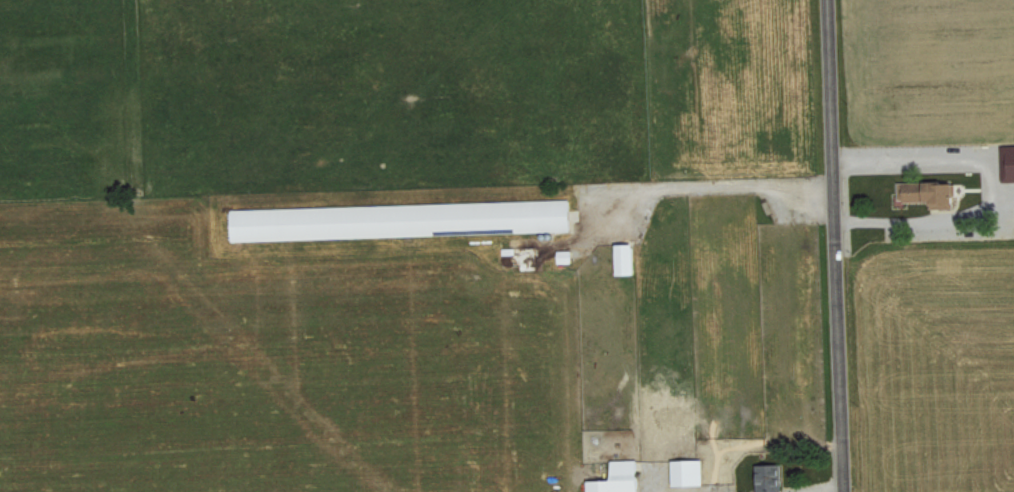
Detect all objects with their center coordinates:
building: (1008, 162)
building: (930, 191)
road: (718, 192)
building: (402, 219)
road: (840, 246)
building: (566, 255)
building: (627, 257)
building: (689, 471)
building: (770, 477)
building: (620, 478)

